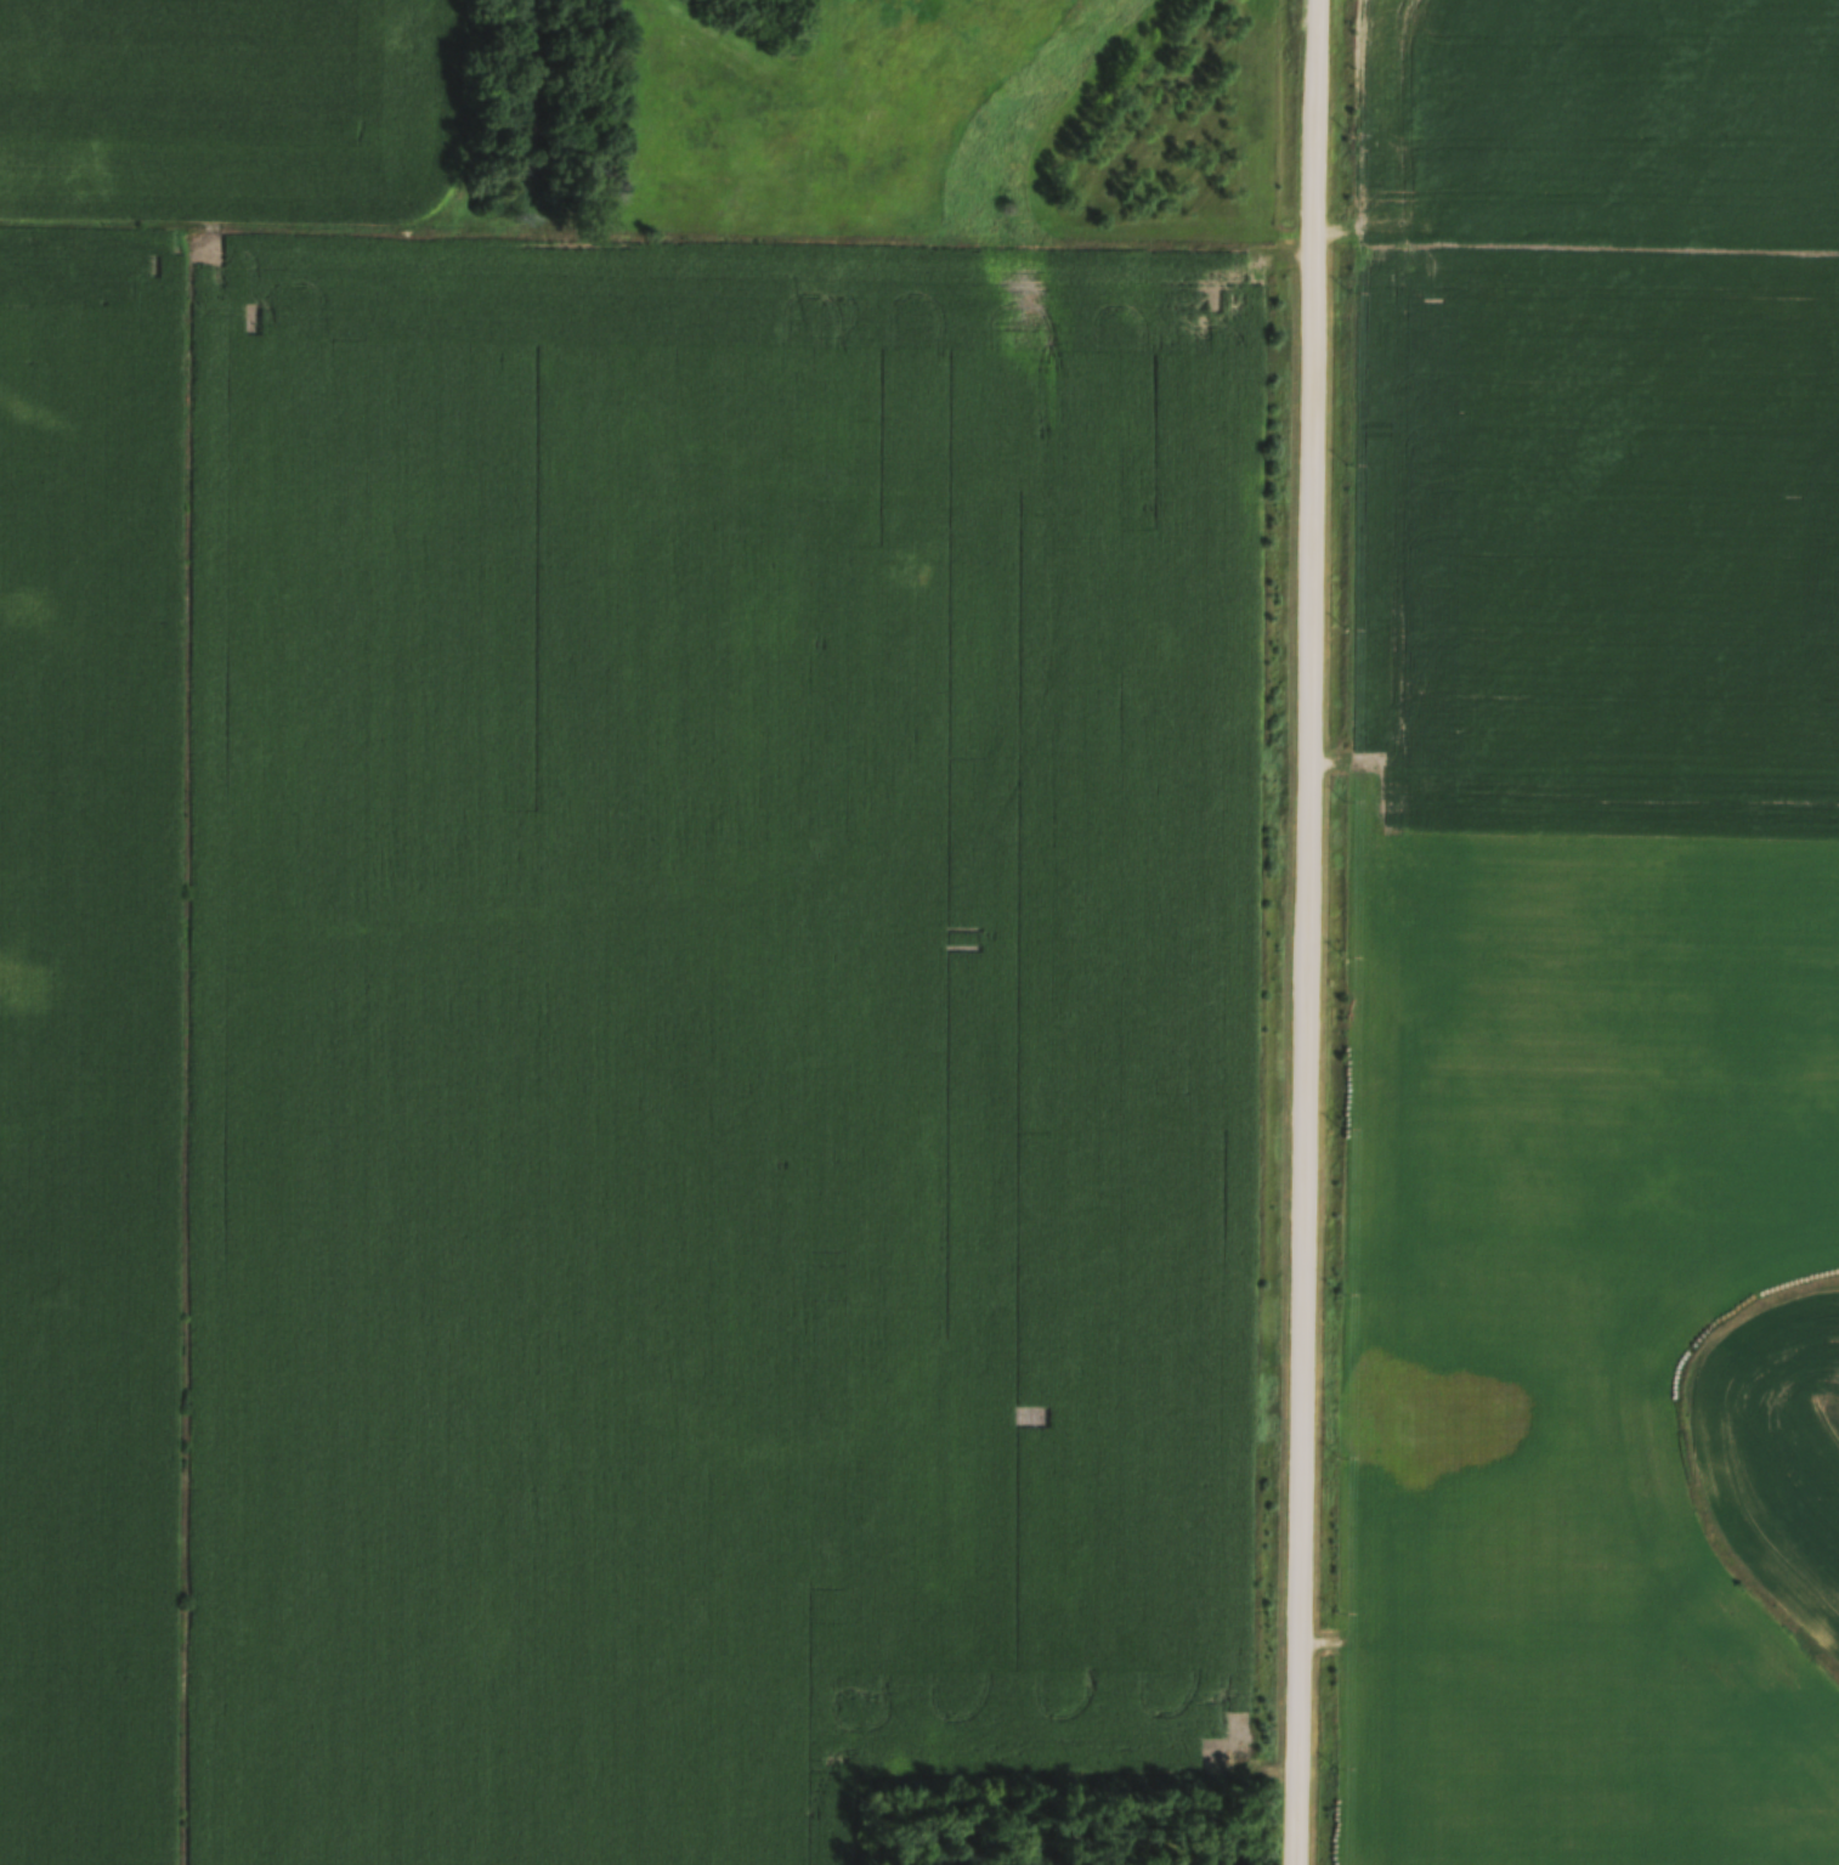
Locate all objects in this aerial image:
road: (1312, 932)

